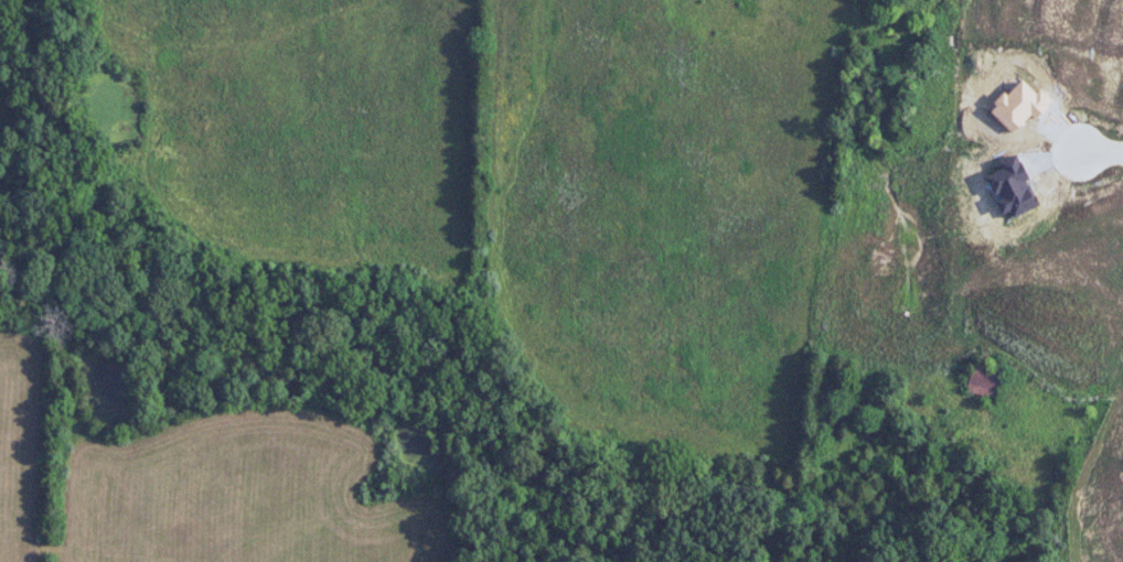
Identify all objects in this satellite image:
road: (1101, 153)
building: (1024, 227)
building: (984, 379)

